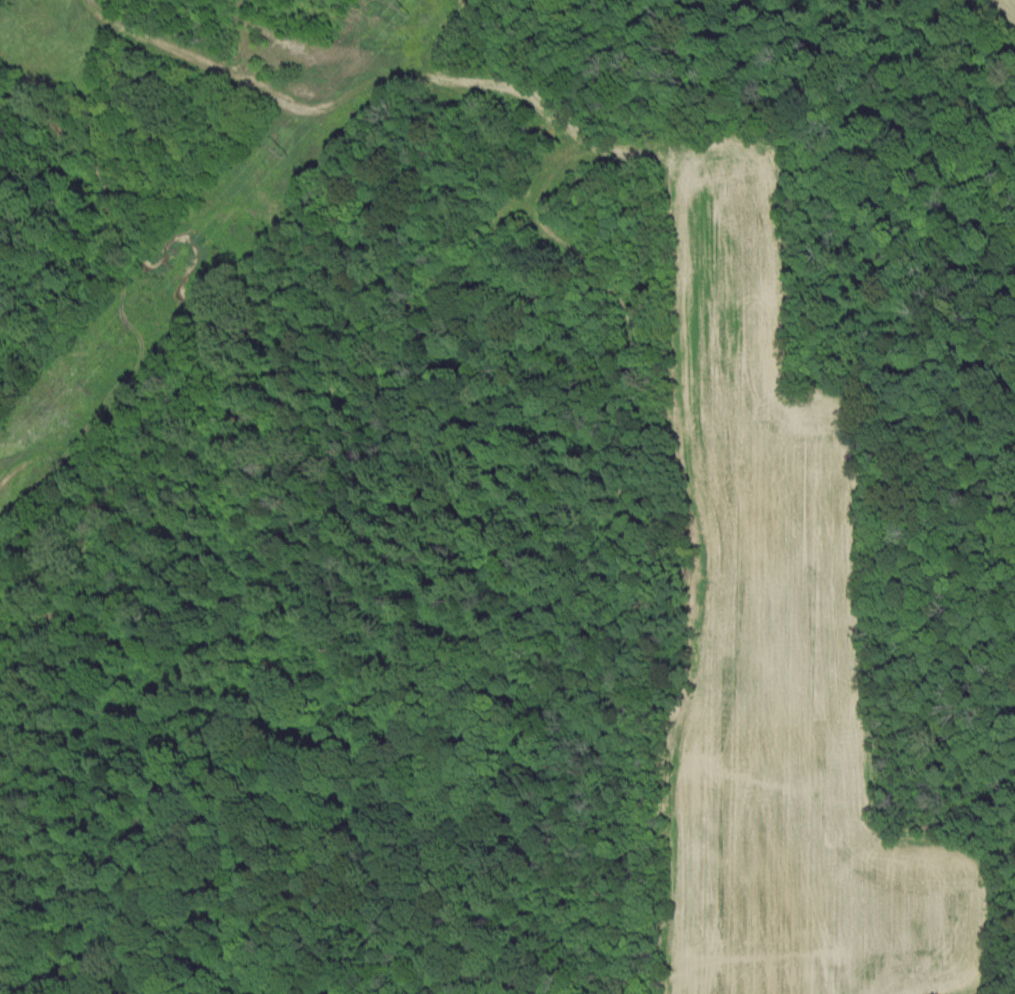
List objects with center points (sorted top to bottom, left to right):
power tower: (416, 2)
power tower: (289, 150)

